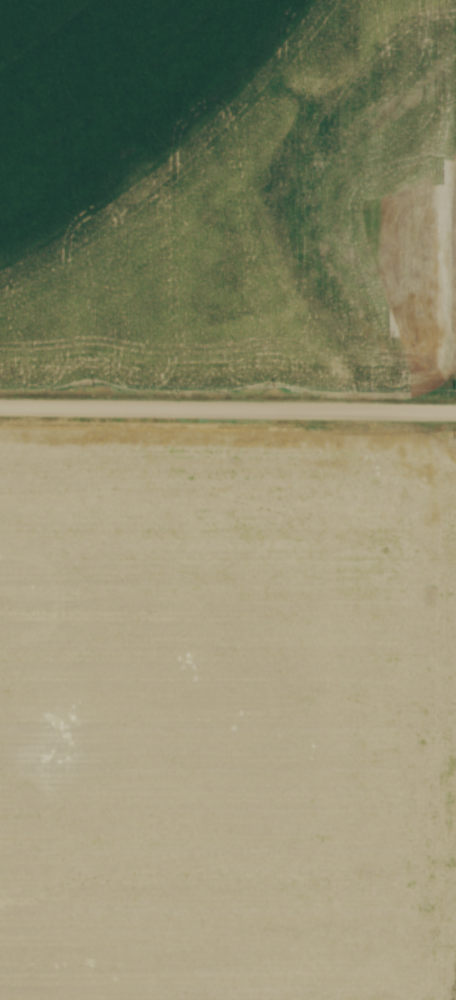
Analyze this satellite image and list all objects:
road: (228, 411)

